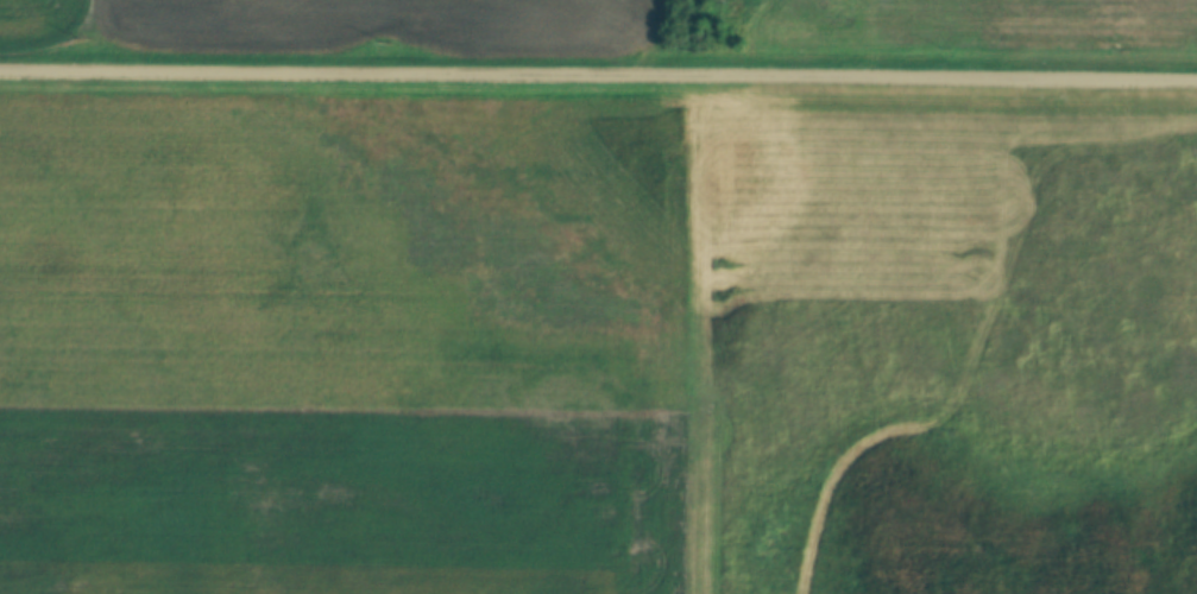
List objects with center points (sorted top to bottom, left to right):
road: (598, 80)

